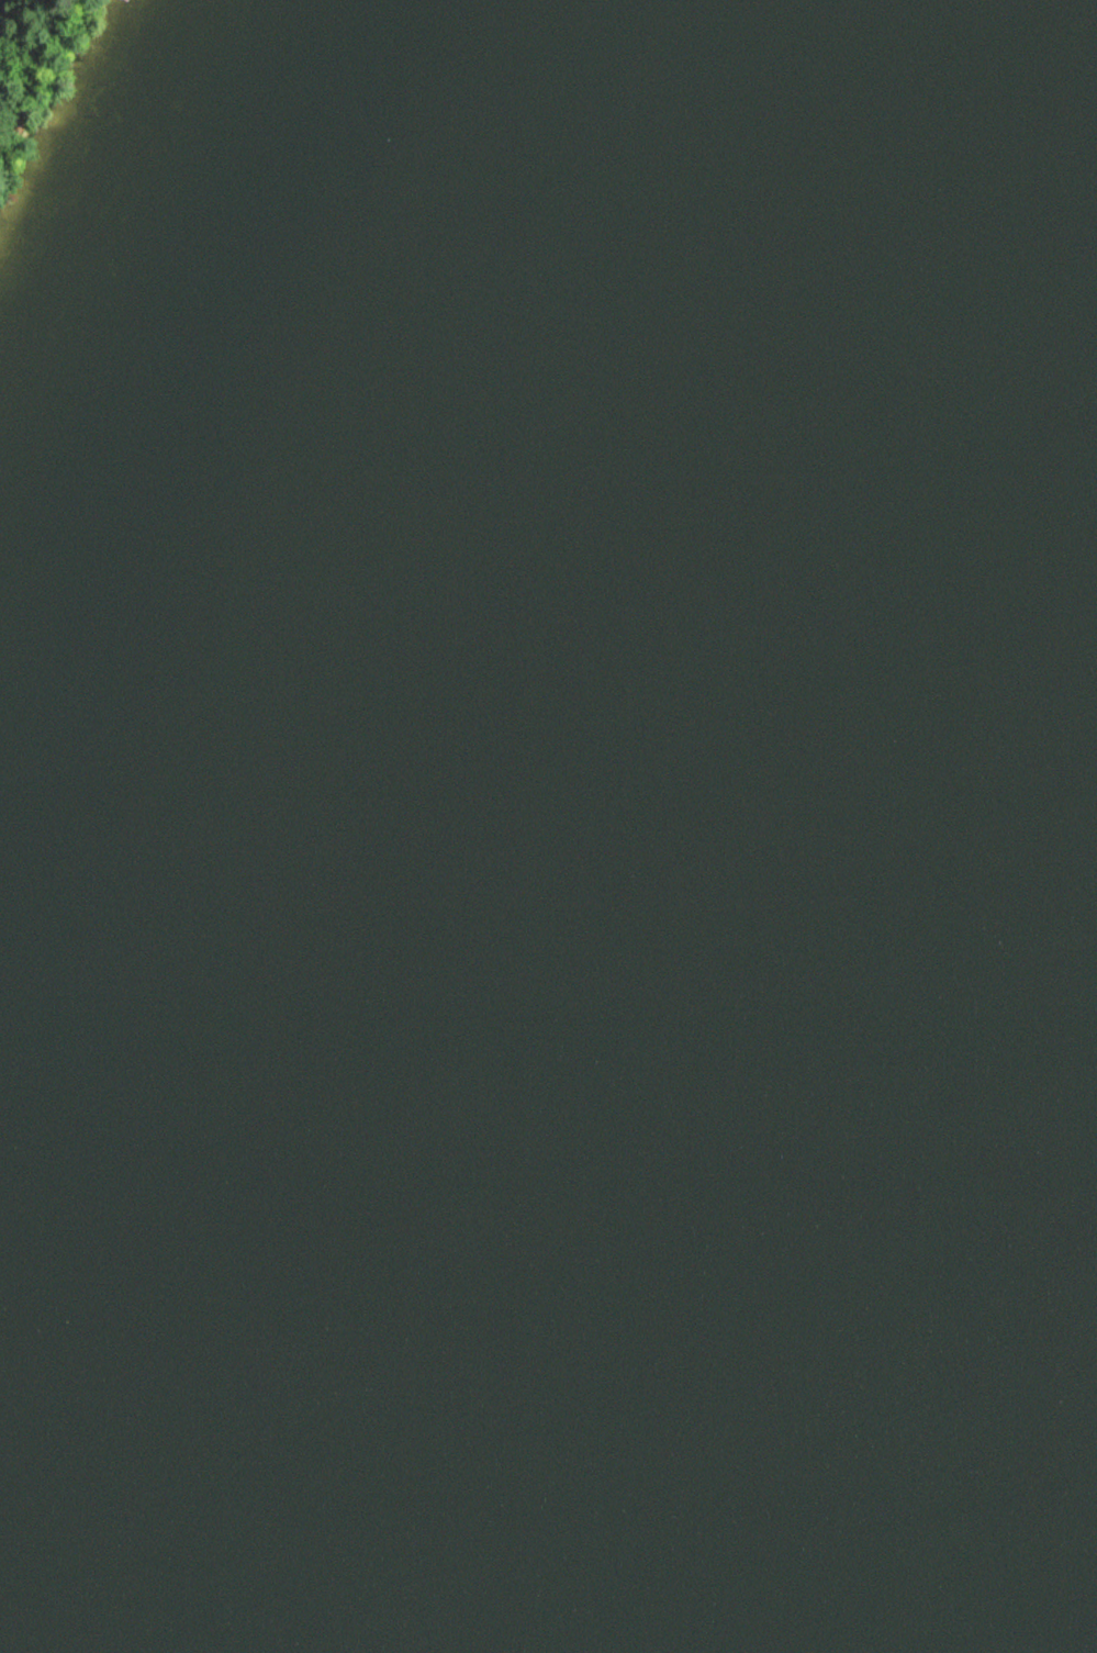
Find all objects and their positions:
building: (3, 2)

